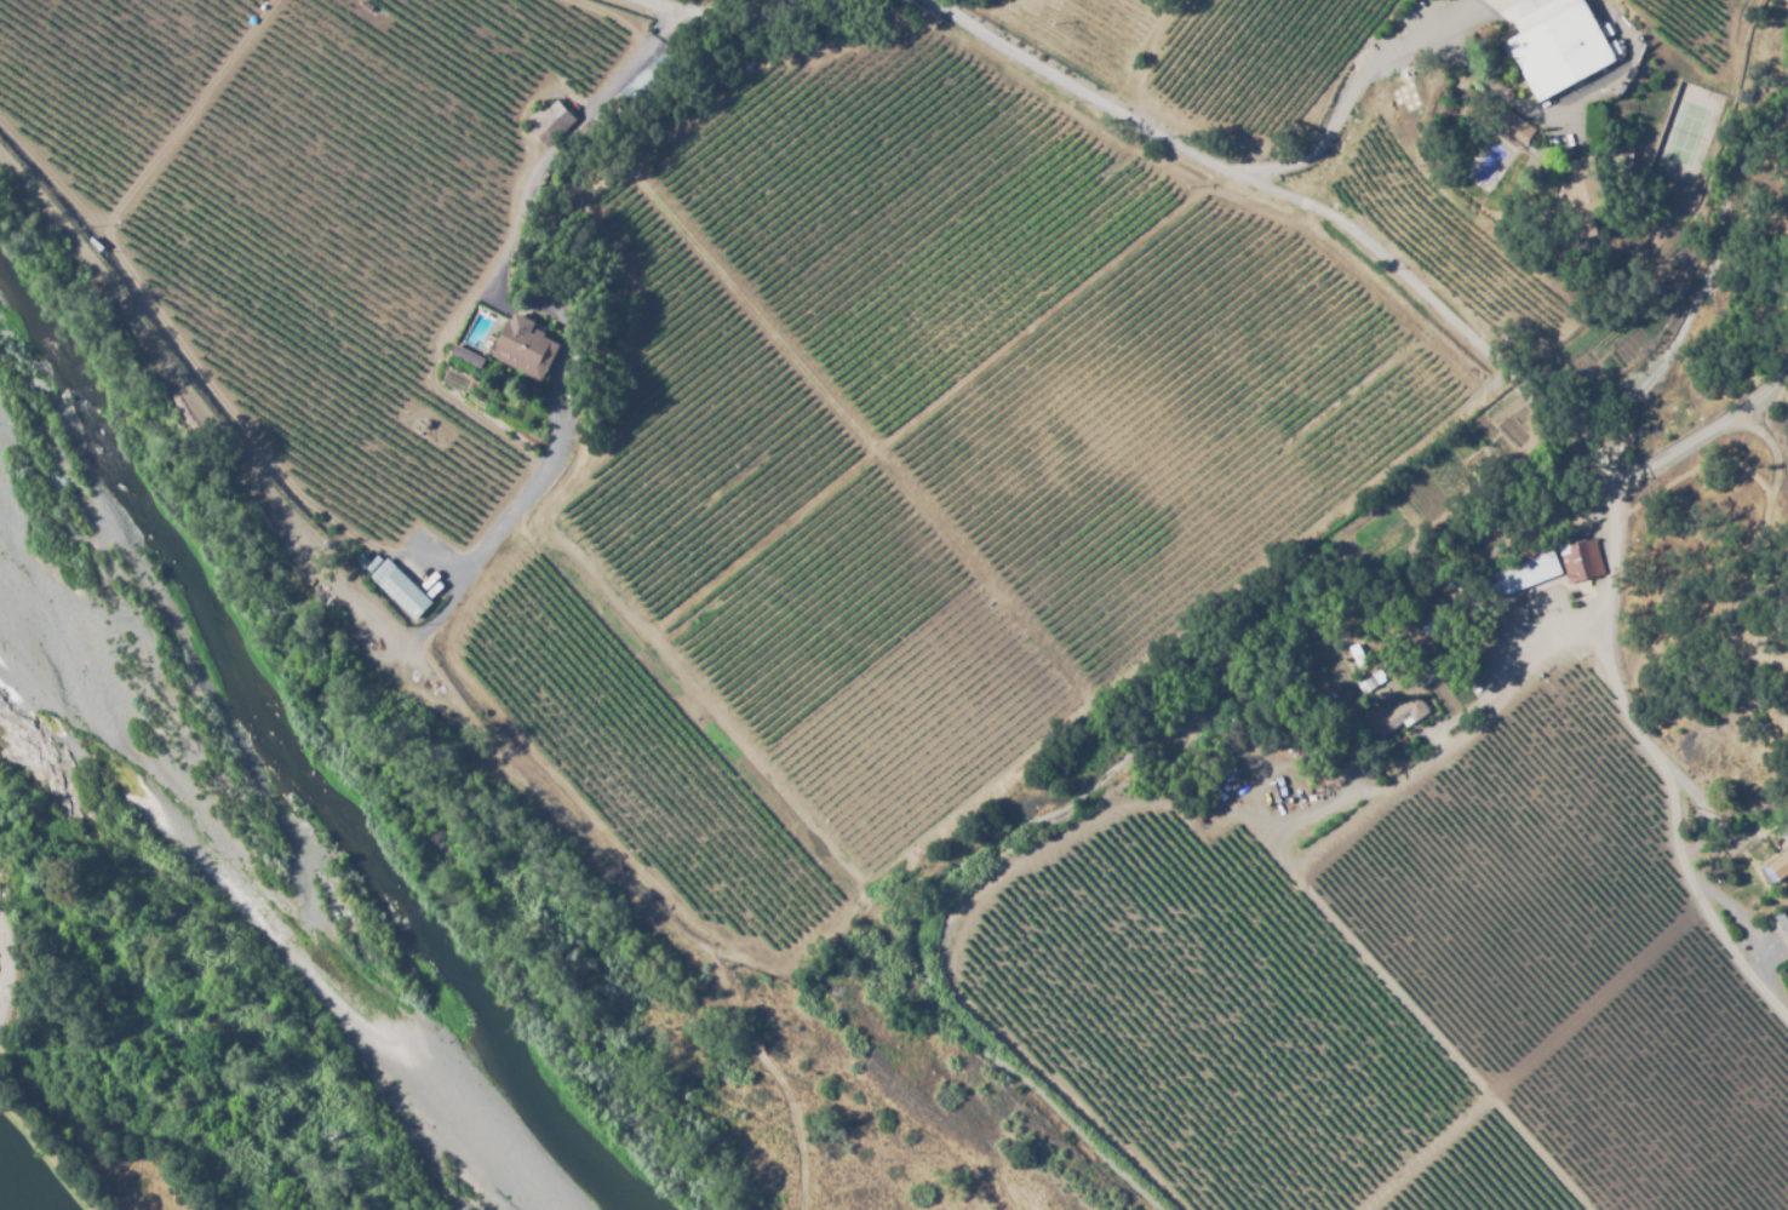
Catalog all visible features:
building: (365, 6)
road: (694, 8)
building: (1561, 56)
building: (661, 64)
road: (1371, 65)
building: (550, 122)
building: (1582, 193)
road: (1305, 202)
building: (99, 240)
road: (549, 279)
building: (525, 350)
building: (466, 355)
road: (1710, 434)
road: (1752, 550)
building: (1581, 560)
building: (1526, 572)
building: (400, 589)
building: (1353, 654)
building: (1369, 682)
building: (1389, 717)
river: (270, 745)
road: (1657, 765)
building: (1784, 831)
building: (1777, 866)
building: (1782, 917)
road: (6, 965)

